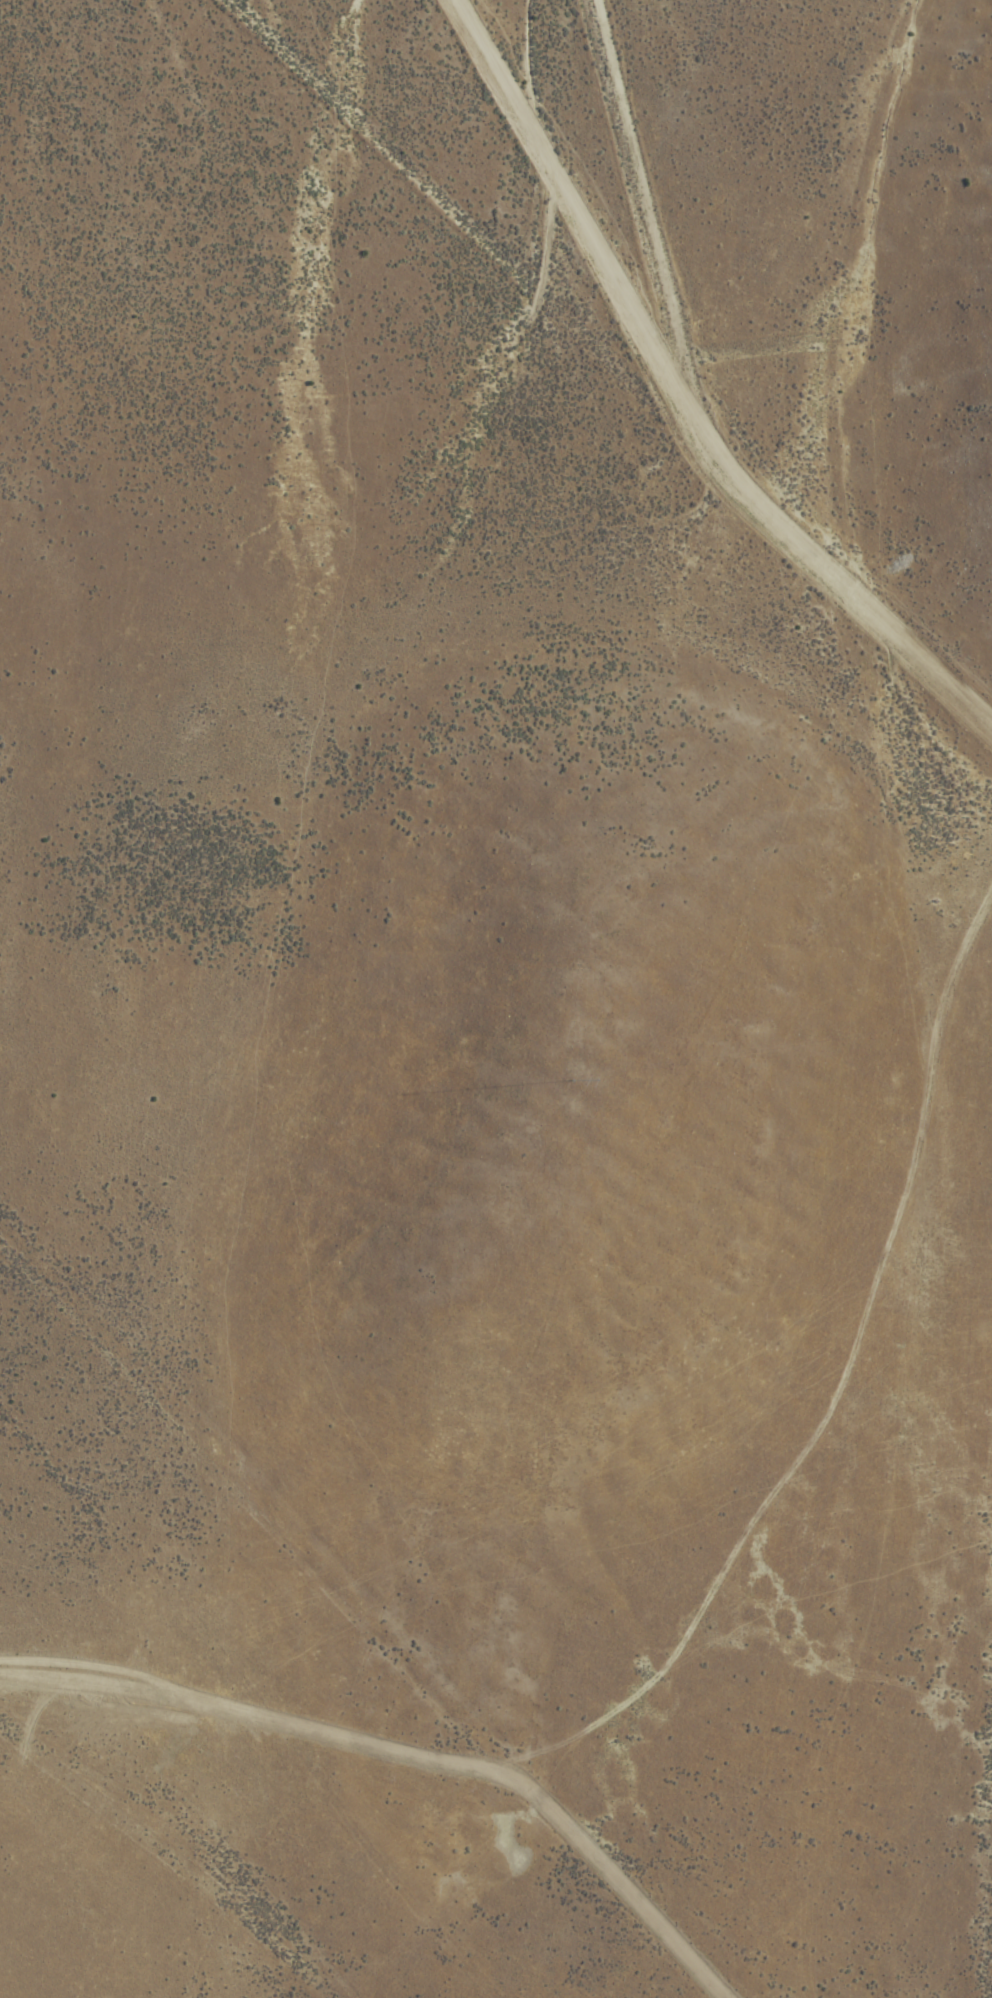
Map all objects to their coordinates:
road: (641, 343)

